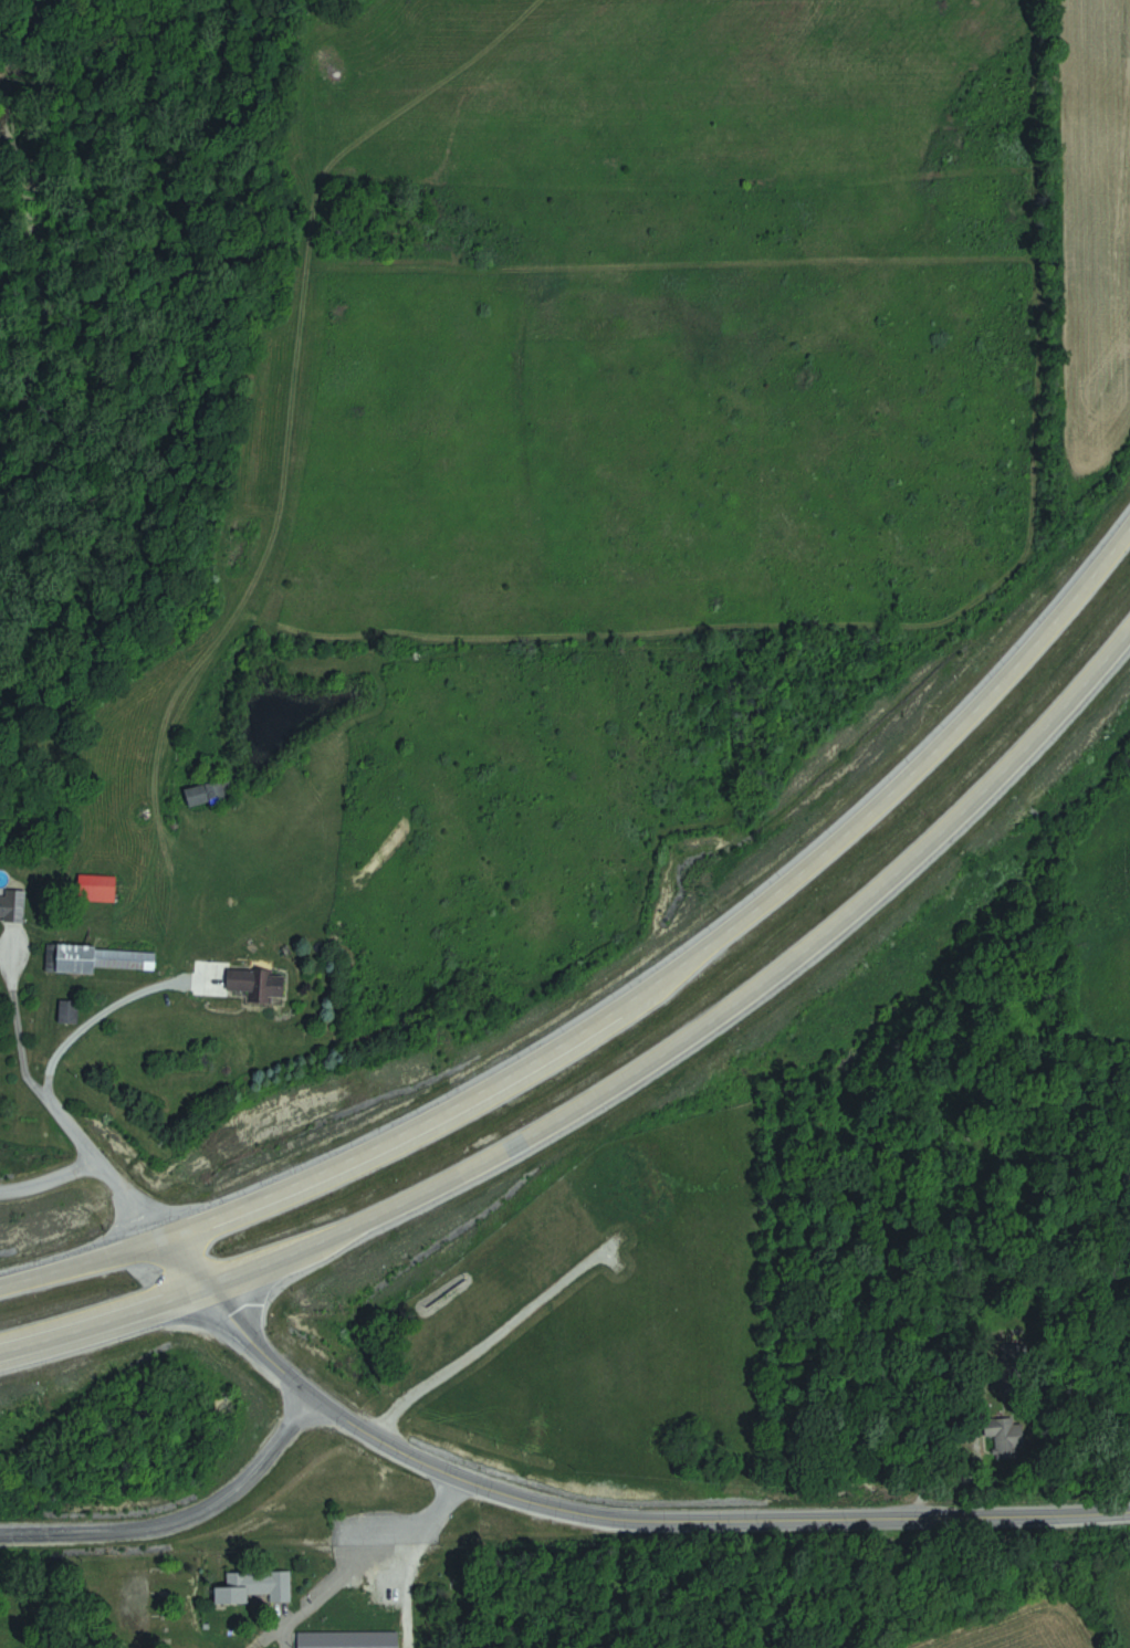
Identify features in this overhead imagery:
building: (211, 792)
building: (98, 888)
building: (12, 904)
building: (92, 958)
building: (261, 982)
road: (629, 994)
building: (70, 1011)
road: (114, 1012)
road: (25, 1057)
road: (626, 1077)
road: (50, 1180)
road: (128, 1198)
road: (960, 1434)
road: (443, 1502)
road: (598, 1511)
road: (178, 1514)
road: (339, 1574)
road: (406, 1583)
building: (257, 1587)
road: (124, 1588)
building: (386, 1588)
crop: (1009, 1619)
road: (264, 1637)
building: (349, 1639)

